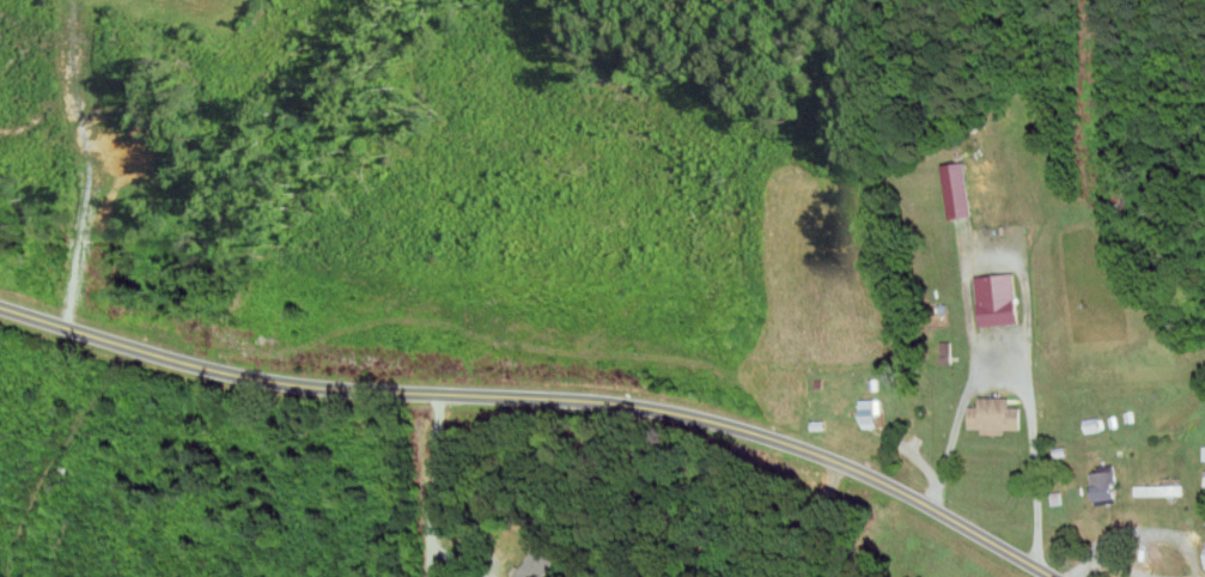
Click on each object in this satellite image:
building: (961, 189)
building: (1000, 298)
road: (1022, 381)
building: (876, 383)
road: (542, 396)
building: (874, 412)
building: (997, 414)
building: (1132, 415)
building: (820, 424)
building: (1096, 424)
building: (1063, 450)
building: (1204, 450)
building: (1204, 480)
road: (434, 484)
building: (1106, 485)
building: (1161, 490)
building: (1059, 497)
road: (810, 518)
road: (1113, 564)
building: (536, 565)
building: (1204, 566)

